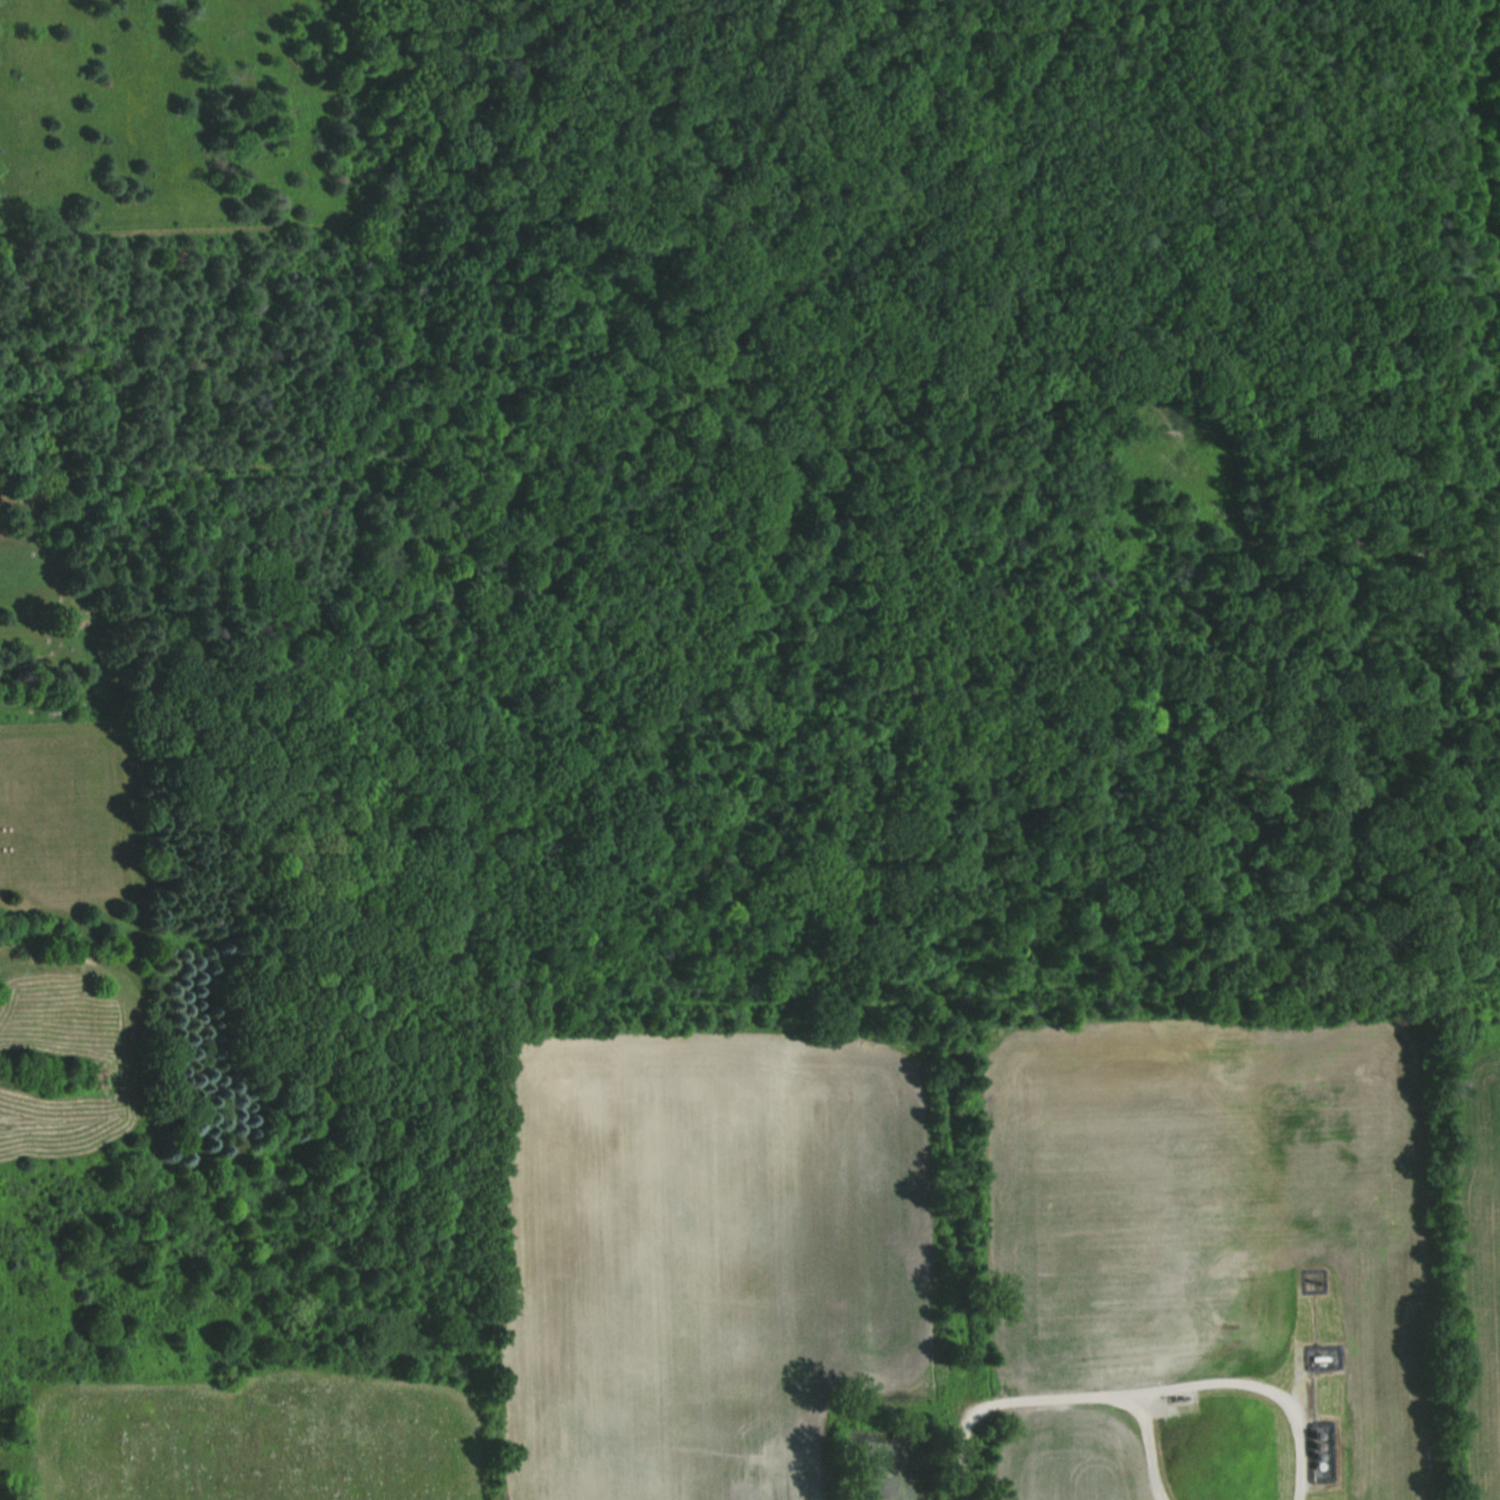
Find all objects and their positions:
road: (1261, 1386)
road: (1006, 1400)
road: (1147, 1446)

